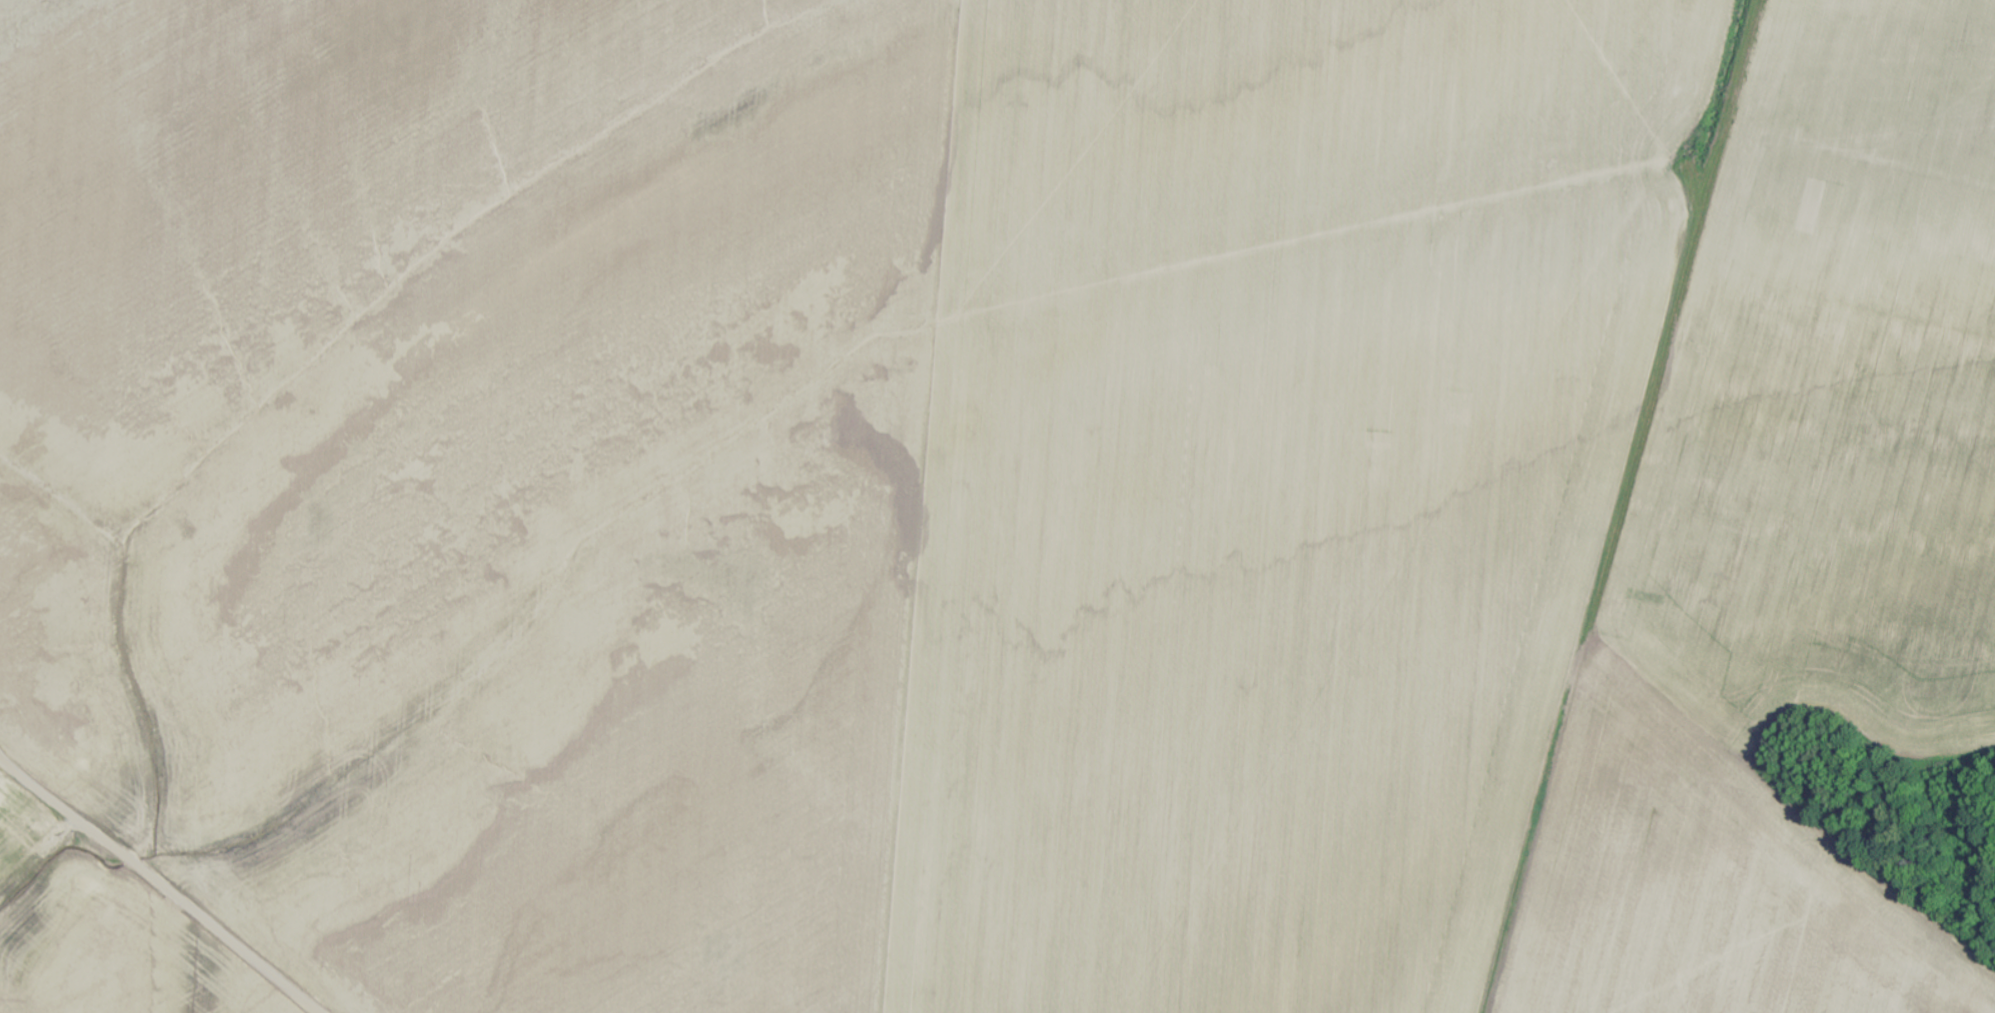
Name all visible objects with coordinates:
road: (158, 884)

